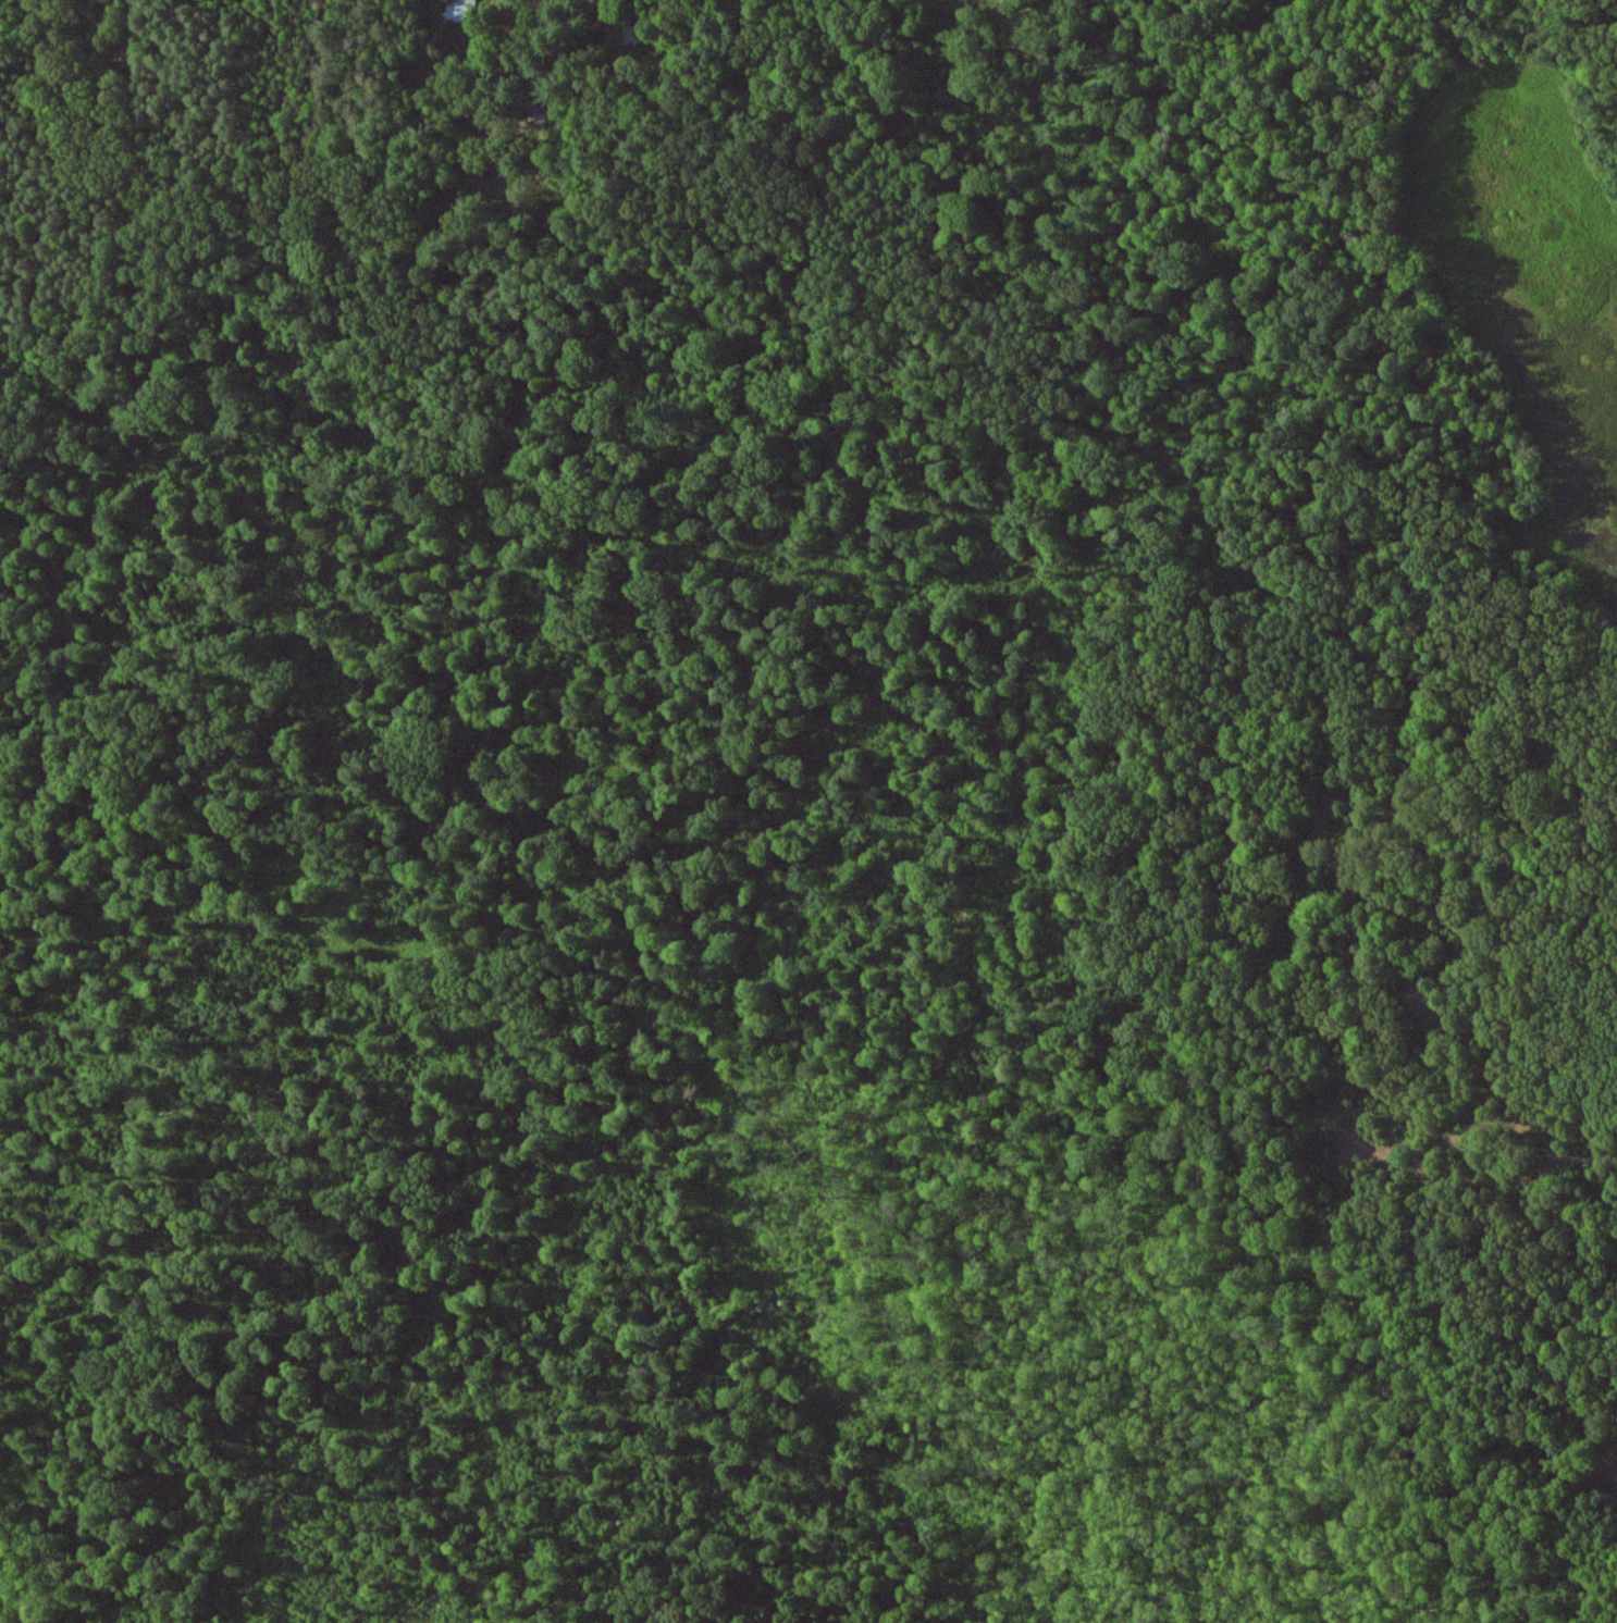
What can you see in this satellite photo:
building: (712, 0)
building: (629, 32)
building: (538, 111)

